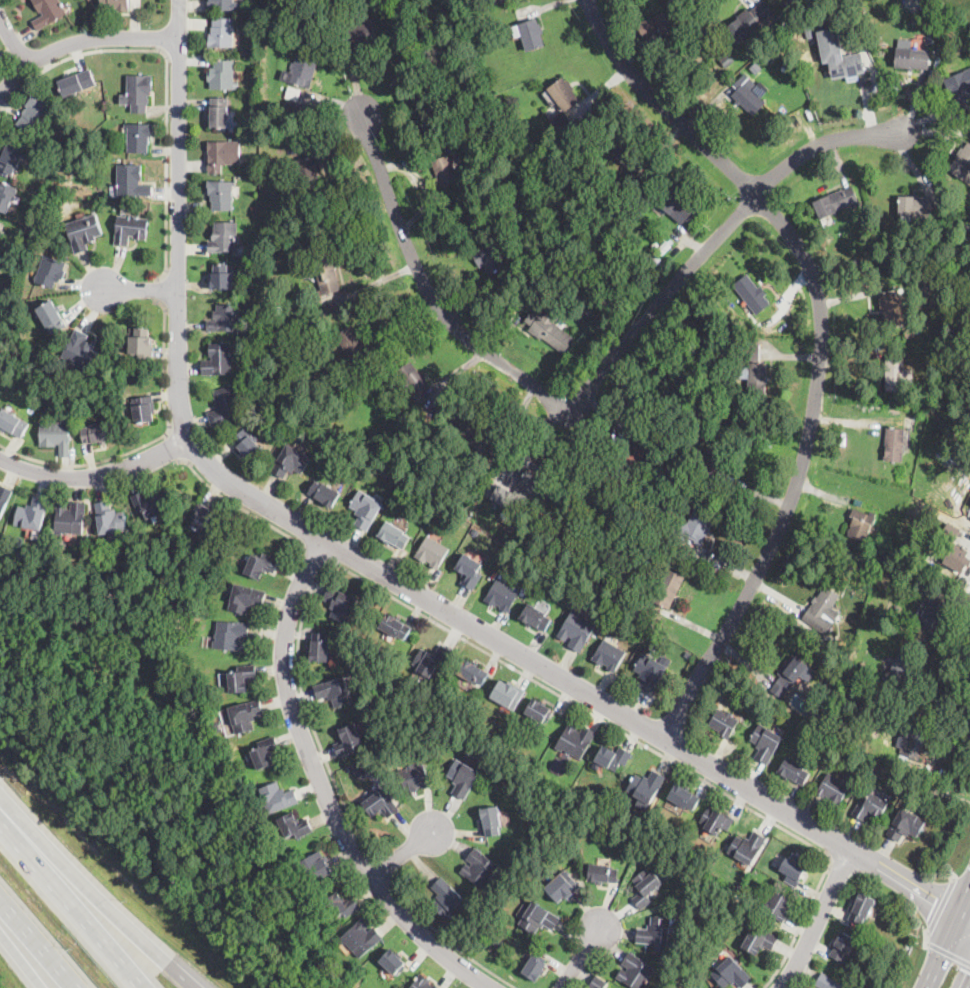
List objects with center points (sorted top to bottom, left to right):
building: (789, 3)
building: (116, 4)
building: (224, 4)
building: (334, 9)
building: (49, 12)
building: (751, 21)
building: (663, 22)
building: (810, 32)
building: (221, 33)
building: (529, 33)
building: (359, 34)
road: (12, 40)
road: (80, 40)
building: (768, 58)
building: (912, 58)
building: (727, 60)
building: (480, 64)
building: (845, 64)
building: (300, 71)
road: (167, 74)
building: (222, 75)
building: (691, 81)
building: (77, 82)
building: (960, 89)
building: (139, 92)
building: (293, 92)
building: (563, 93)
building: (748, 99)
building: (290, 106)
building: (36, 112)
building: (219, 112)
building: (292, 113)
building: (562, 124)
building: (138, 137)
road: (823, 143)
building: (222, 154)
building: (11, 157)
building: (630, 157)
building: (55, 160)
building: (962, 164)
building: (445, 171)
building: (306, 173)
building: (131, 180)
building: (221, 194)
building: (6, 196)
building: (835, 202)
building: (915, 206)
building: (675, 207)
building: (253, 208)
building: (960, 226)
building: (130, 228)
building: (83, 232)
building: (223, 237)
building: (661, 251)
building: (656, 257)
building: (493, 258)
building: (847, 269)
building: (326, 271)
building: (51, 272)
building: (558, 274)
building: (222, 277)
building: (956, 280)
road: (160, 291)
road: (136, 292)
building: (752, 294)
building: (892, 309)
building: (52, 317)
building: (224, 318)
building: (709, 325)
building: (549, 329)
building: (913, 333)
building: (730, 340)
building: (738, 341)
building: (141, 343)
road: (820, 343)
building: (354, 349)
building: (81, 351)
building: (752, 353)
building: (218, 360)
road: (163, 365)
building: (896, 374)
building: (412, 378)
building: (757, 379)
road: (528, 380)
building: (225, 406)
building: (142, 410)
building: (701, 412)
building: (306, 419)
building: (13, 423)
building: (97, 433)
building: (471, 435)
building: (57, 436)
building: (327, 440)
building: (247, 444)
building: (334, 444)
building: (894, 444)
road: (174, 448)
building: (290, 461)
building: (713, 461)
building: (620, 462)
building: (489, 463)
building: (966, 463)
road: (84, 465)
road: (96, 476)
building: (534, 485)
building: (325, 494)
building: (915, 494)
building: (504, 496)
building: (4, 499)
building: (148, 505)
road: (243, 508)
building: (365, 509)
building: (33, 514)
building: (71, 519)
building: (109, 519)
building: (203, 519)
building: (860, 525)
building: (697, 526)
building: (476, 530)
building: (648, 530)
building: (393, 535)
building: (892, 541)
building: (953, 549)
road: (315, 551)
building: (432, 552)
building: (923, 554)
building: (261, 565)
building: (469, 571)
road: (379, 572)
building: (633, 576)
building: (916, 583)
building: (665, 589)
building: (501, 596)
building: (245, 598)
building: (825, 603)
building: (340, 604)
building: (150, 608)
road: (965, 608)
building: (895, 609)
building: (932, 616)
building: (535, 617)
building: (394, 626)
road: (444, 627)
building: (576, 630)
building: (230, 635)
building: (319, 648)
building: (842, 649)
building: (608, 655)
building: (431, 660)
building: (900, 669)
building: (472, 671)
building: (649, 672)
building: (792, 676)
building: (242, 678)
building: (334, 691)
building: (507, 694)
building: (538, 710)
building: (245, 715)
road: (941, 716)
building: (724, 723)
building: (215, 726)
building: (347, 740)
building: (575, 740)
building: (765, 742)
building: (914, 742)
building: (508, 748)
building: (265, 752)
building: (612, 757)
building: (358, 770)
building: (793, 771)
building: (413, 776)
building: (464, 776)
building: (645, 788)
building: (833, 788)
road: (322, 790)
building: (683, 796)
building: (278, 797)
building: (380, 805)
building: (870, 807)
building: (491, 820)
building: (716, 821)
building: (905, 825)
building: (294, 826)
building: (747, 847)
road: (403, 853)
road: (837, 861)
building: (316, 866)
road: (381, 868)
building: (479, 869)
building: (793, 869)
building: (602, 874)
road: (962, 882)
building: (562, 886)
building: (645, 887)
building: (445, 898)
traffic signals: (937, 898)
road: (97, 899)
road: (70, 905)
building: (341, 905)
building: (778, 905)
road: (942, 907)
building: (862, 908)
road: (967, 912)
road: (967, 916)
building: (538, 918)
road: (819, 920)
road: (800, 924)
building: (658, 933)
building: (360, 938)
road: (927, 940)
road: (447, 941)
building: (759, 941)
building: (498, 942)
road: (949, 943)
road: (36, 945)
building: (842, 947)
road: (948, 953)
road: (582, 954)
building: (862, 956)
road: (21, 957)
building: (393, 961)
building: (534, 968)
building: (635, 971)
building: (731, 974)
building: (827, 982)
building: (422, 983)
building: (597, 983)

